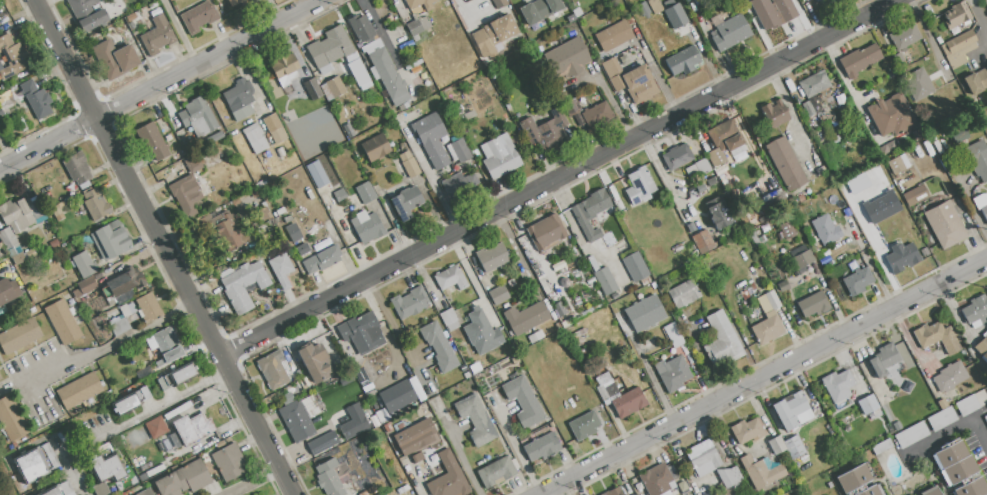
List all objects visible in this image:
building: (241, 1)
building: (985, 2)
building: (499, 3)
building: (826, 4)
building: (654, 6)
building: (643, 9)
building: (785, 9)
building: (539, 10)
building: (577, 12)
road: (979, 13)
building: (88, 14)
building: (765, 14)
building: (675, 15)
building: (955, 15)
building: (199, 17)
building: (417, 17)
building: (571, 18)
building: (362, 28)
road: (180, 32)
building: (730, 32)
building: (493, 34)
building: (904, 35)
building: (157, 36)
building: (614, 36)
building: (329, 47)
building: (959, 48)
building: (12, 57)
building: (116, 58)
building: (567, 58)
building: (683, 60)
building: (859, 60)
building: (986, 66)
building: (285, 70)
building: (357, 72)
building: (386, 72)
building: (631, 80)
building: (976, 81)
road: (158, 83)
building: (918, 84)
building: (335, 87)
building: (813, 88)
building: (312, 89)
building: (28, 99)
building: (239, 99)
building: (403, 106)
building: (570, 107)
building: (774, 113)
building: (597, 115)
building: (891, 115)
building: (197, 117)
building: (275, 128)
building: (546, 132)
building: (958, 134)
building: (255, 138)
building: (432, 139)
building: (152, 141)
building: (723, 141)
building: (937, 146)
building: (375, 148)
building: (460, 151)
building: (266, 155)
building: (499, 156)
building: (677, 156)
building: (977, 159)
building: (192, 163)
building: (785, 163)
building: (408, 164)
building: (898, 164)
building: (78, 169)
building: (698, 169)
building: (317, 174)
road: (429, 176)
road: (562, 178)
building: (710, 181)
building: (857, 183)
building: (459, 185)
building: (639, 185)
building: (366, 192)
building: (186, 194)
building: (340, 195)
building: (915, 195)
building: (326, 201)
building: (406, 202)
building: (96, 203)
building: (982, 204)
building: (880, 207)
building: (59, 210)
building: (590, 213)
building: (718, 213)
building: (22, 214)
building: (754, 222)
building: (944, 224)
building: (367, 227)
building: (826, 229)
building: (786, 230)
building: (220, 232)
building: (546, 232)
building: (292, 234)
building: (755, 239)
building: (110, 241)
building: (702, 242)
building: (53, 243)
building: (12, 246)
road: (169, 246)
building: (303, 249)
building: (492, 257)
building: (901, 257)
building: (802, 259)
building: (322, 260)
road: (880, 261)
building: (83, 264)
building: (635, 267)
building: (282, 269)
building: (450, 278)
building: (605, 281)
building: (857, 281)
building: (126, 282)
building: (243, 284)
building: (782, 286)
building: (84, 287)
building: (8, 290)
building: (684, 294)
building: (499, 295)
building: (122, 297)
building: (410, 302)
building: (768, 302)
building: (813, 305)
building: (148, 307)
building: (128, 309)
building: (976, 311)
building: (645, 312)
building: (526, 317)
building: (449, 318)
building: (63, 321)
road: (391, 322)
building: (119, 327)
building: (767, 328)
building: (481, 332)
building: (362, 333)
building: (19, 335)
building: (674, 335)
building: (572, 336)
building: (938, 337)
building: (533, 338)
building: (721, 341)
road: (111, 345)
building: (165, 346)
building: (438, 347)
building: (982, 347)
building: (883, 359)
building: (515, 360)
building: (103, 361)
building: (314, 363)
building: (475, 368)
road: (647, 369)
building: (273, 370)
building: (144, 373)
building: (673, 373)
building: (111, 375)
building: (466, 375)
road: (763, 375)
building: (175, 376)
building: (950, 376)
building: (0, 377)
building: (0, 379)
building: (622, 385)
building: (838, 387)
building: (79, 390)
building: (145, 393)
building: (138, 394)
building: (319, 394)
building: (401, 394)
building: (619, 396)
building: (287, 398)
road: (172, 399)
building: (523, 402)
building: (941, 403)
building: (970, 403)
building: (125, 404)
building: (867, 404)
building: (792, 411)
building: (379, 416)
building: (940, 418)
building: (11, 419)
building: (476, 419)
building: (985, 419)
building: (297, 421)
building: (584, 425)
building: (897, 425)
building: (156, 427)
building: (193, 428)
building: (353, 428)
building: (388, 428)
building: (746, 430)
road: (953, 430)
building: (911, 435)
building: (415, 437)
building: (322, 442)
building: (884, 445)
building: (786, 446)
building: (542, 448)
building: (417, 457)
road: (460, 457)
building: (703, 457)
building: (229, 461)
building: (433, 461)
building: (954, 462)
building: (35, 463)
building: (105, 471)
building: (497, 471)
building: (761, 471)
building: (333, 476)
building: (143, 477)
building: (448, 477)
building: (728, 477)
building: (183, 479)
building: (655, 479)
road: (257, 480)
park: (7, 481)
building: (857, 482)
building: (972, 488)
building: (59, 489)
building: (687, 490)
building: (930, 491)
building: (146, 492)
building: (612, 492)
building: (362, 493)
building: (259, 494)

